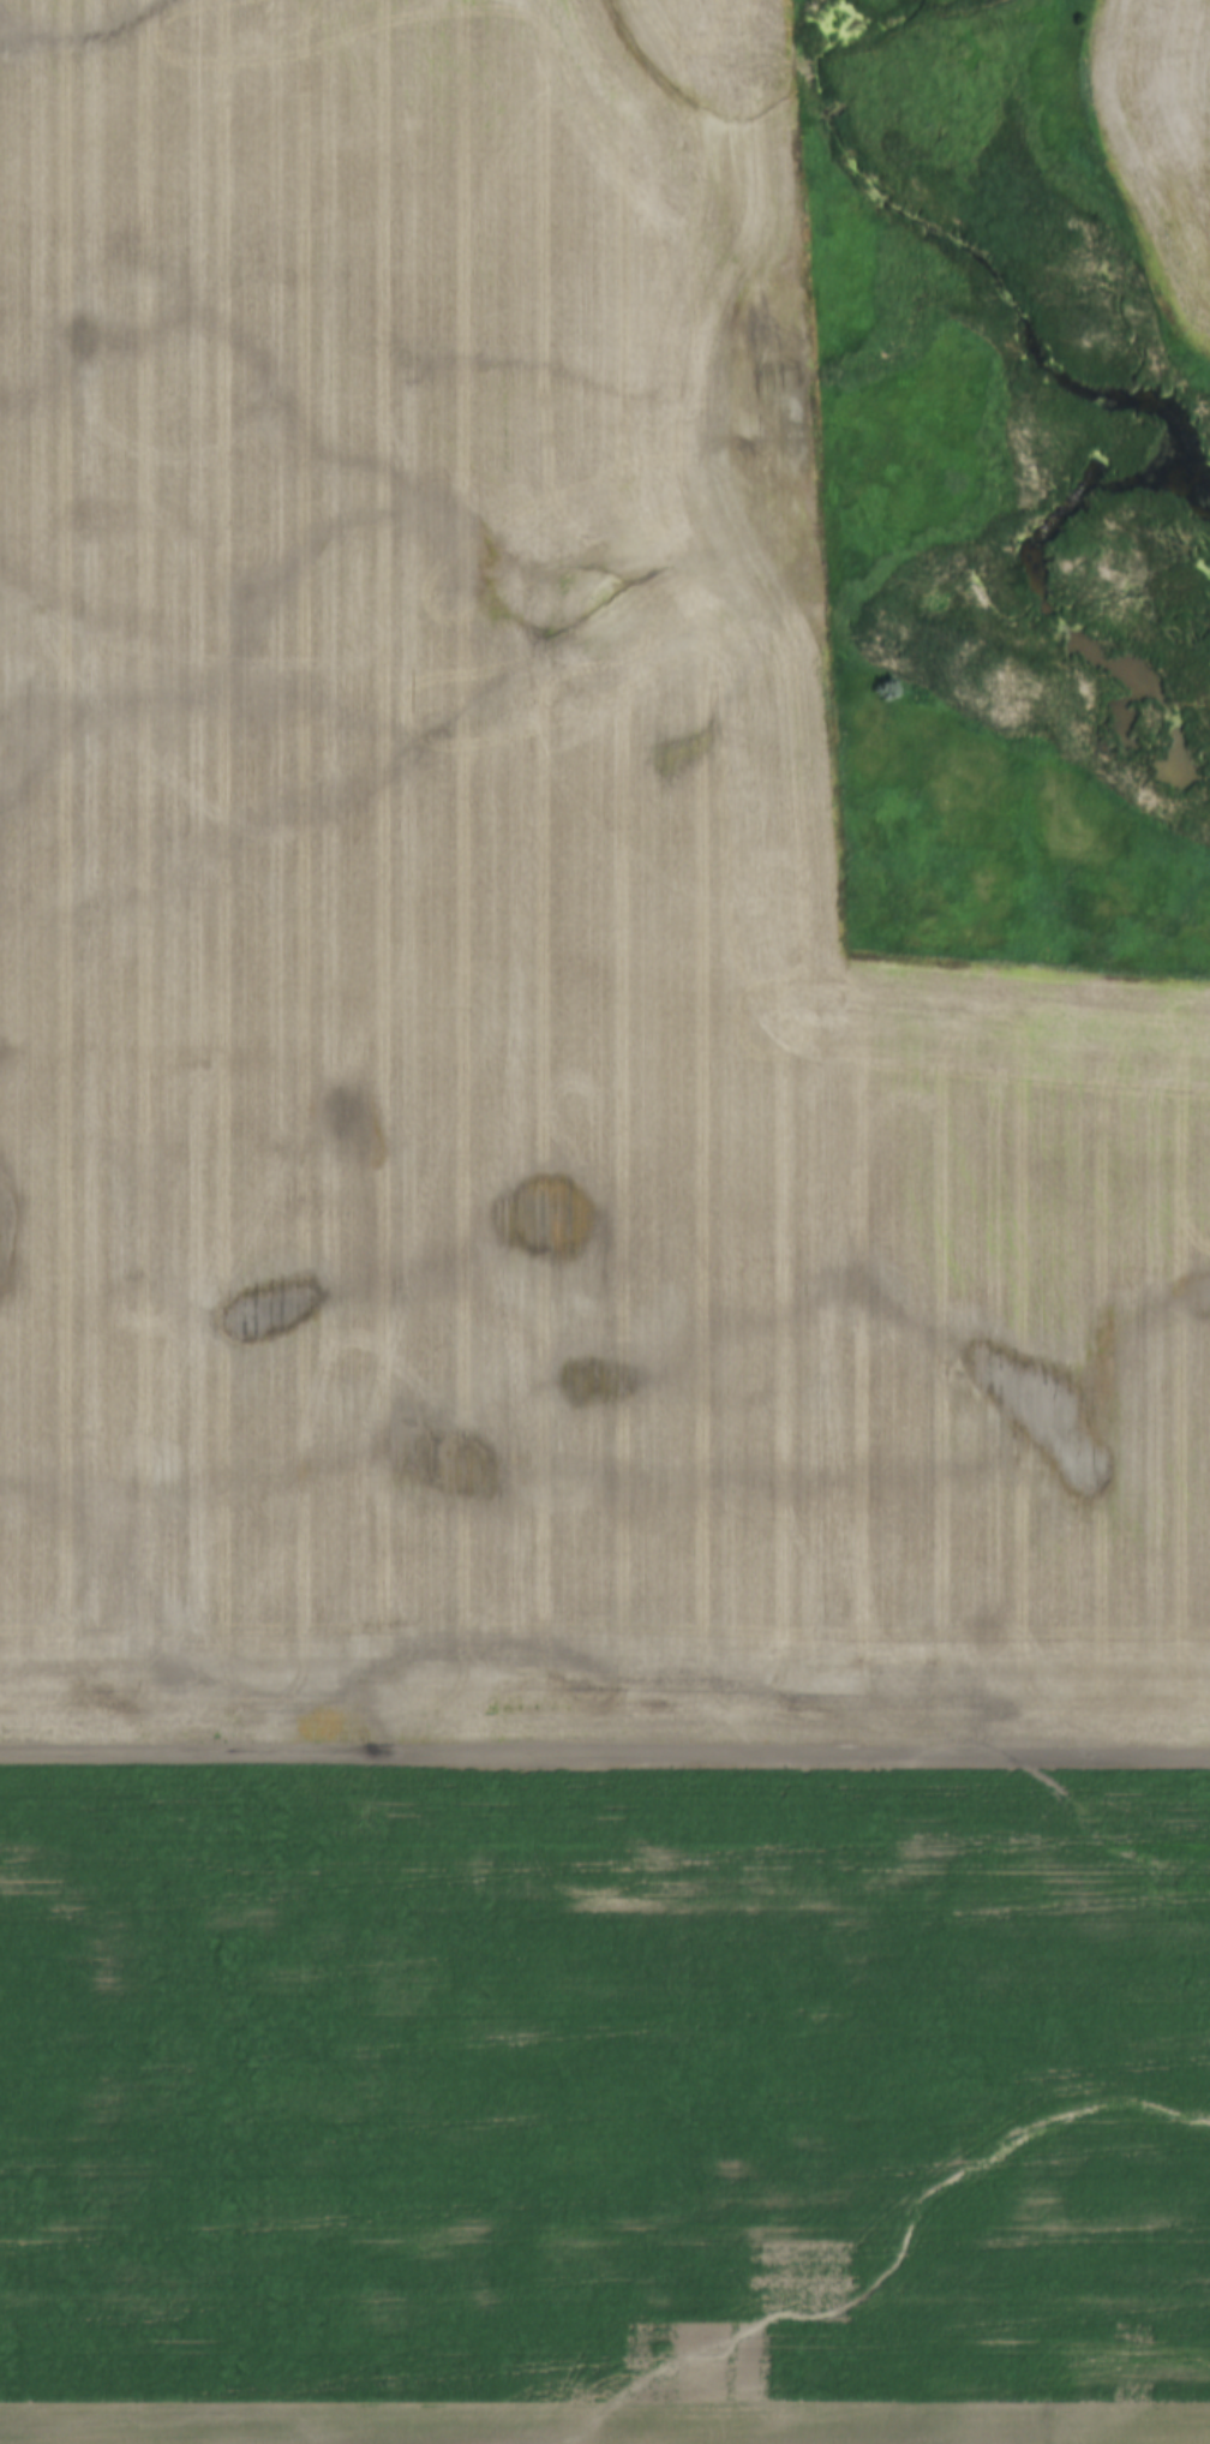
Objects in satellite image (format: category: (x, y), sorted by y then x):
road: (605, 1752)

